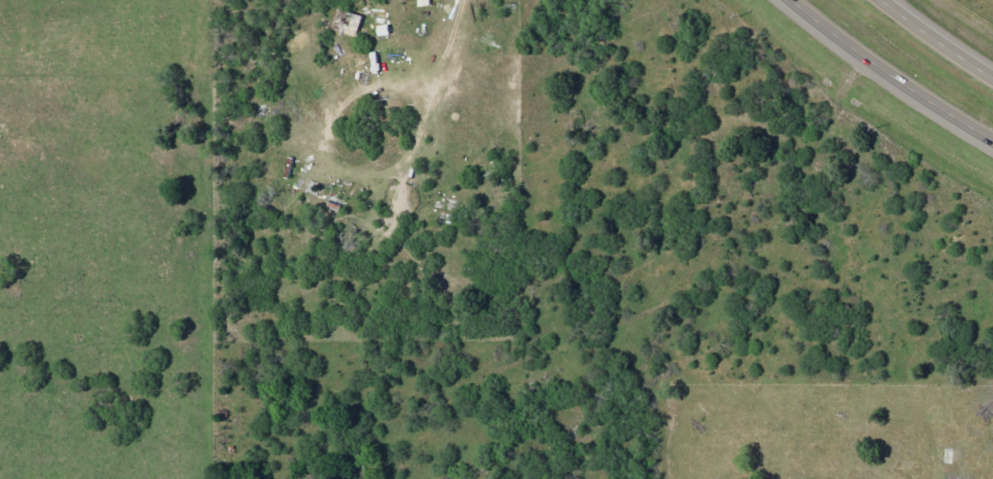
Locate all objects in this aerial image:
building: (423, 3)
building: (351, 26)
road: (941, 40)
road: (887, 76)
road: (782, 244)
road: (546, 334)

